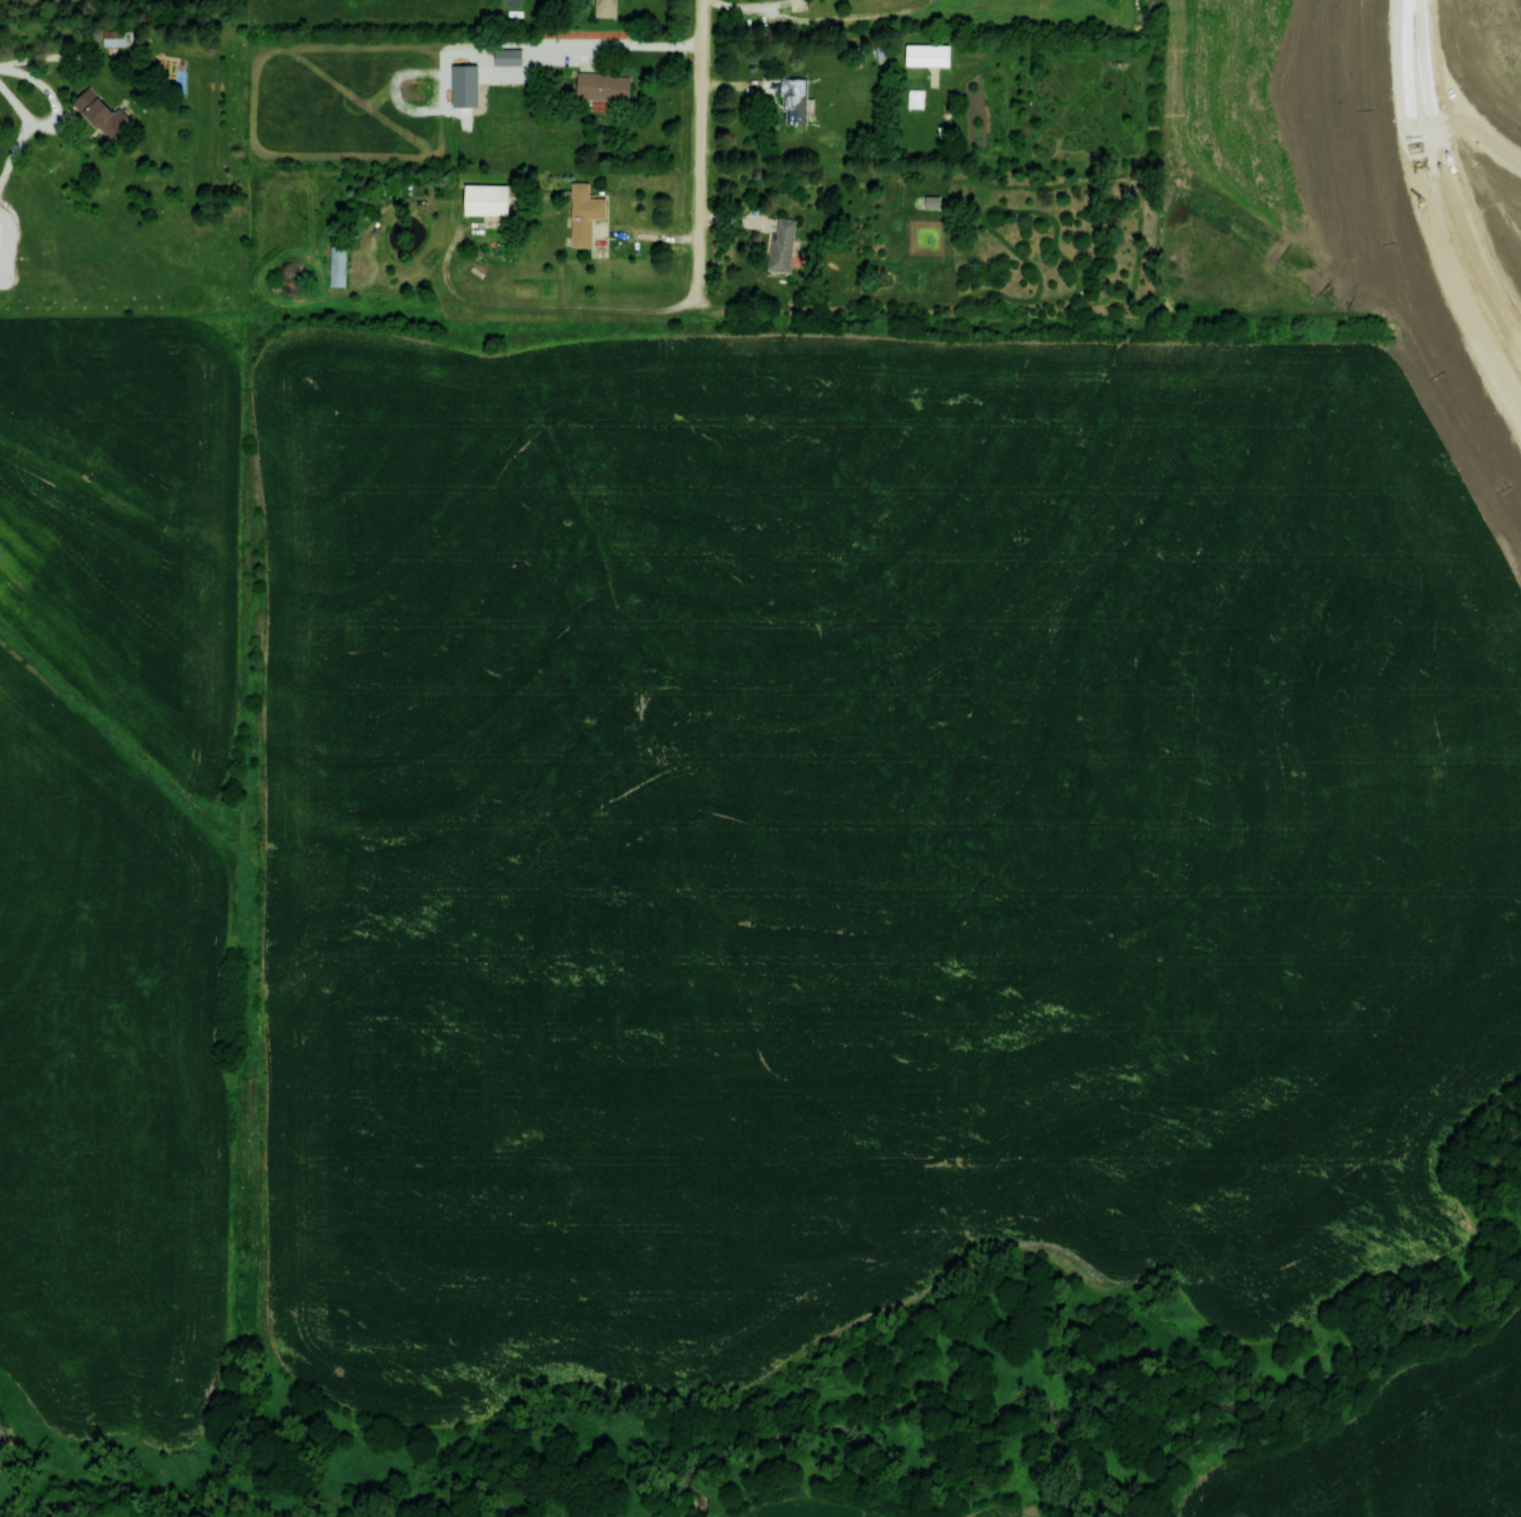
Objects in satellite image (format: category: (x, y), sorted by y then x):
building: (606, 8)
road: (1410, 30)
building: (117, 36)
building: (928, 54)
building: (508, 56)
building: (603, 85)
building: (795, 99)
building: (102, 112)
road: (701, 172)
building: (487, 198)
building: (932, 201)
building: (585, 213)
building: (782, 243)
road: (1437, 244)
building: (337, 265)
crop: (861, 844)
crop: (1394, 1450)

